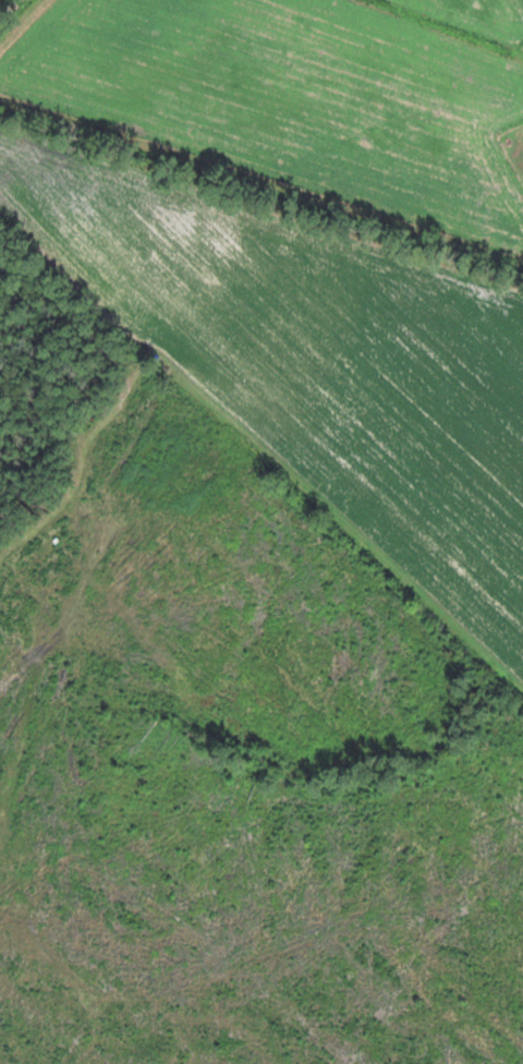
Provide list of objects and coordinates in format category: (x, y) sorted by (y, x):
road: (83, 468)

